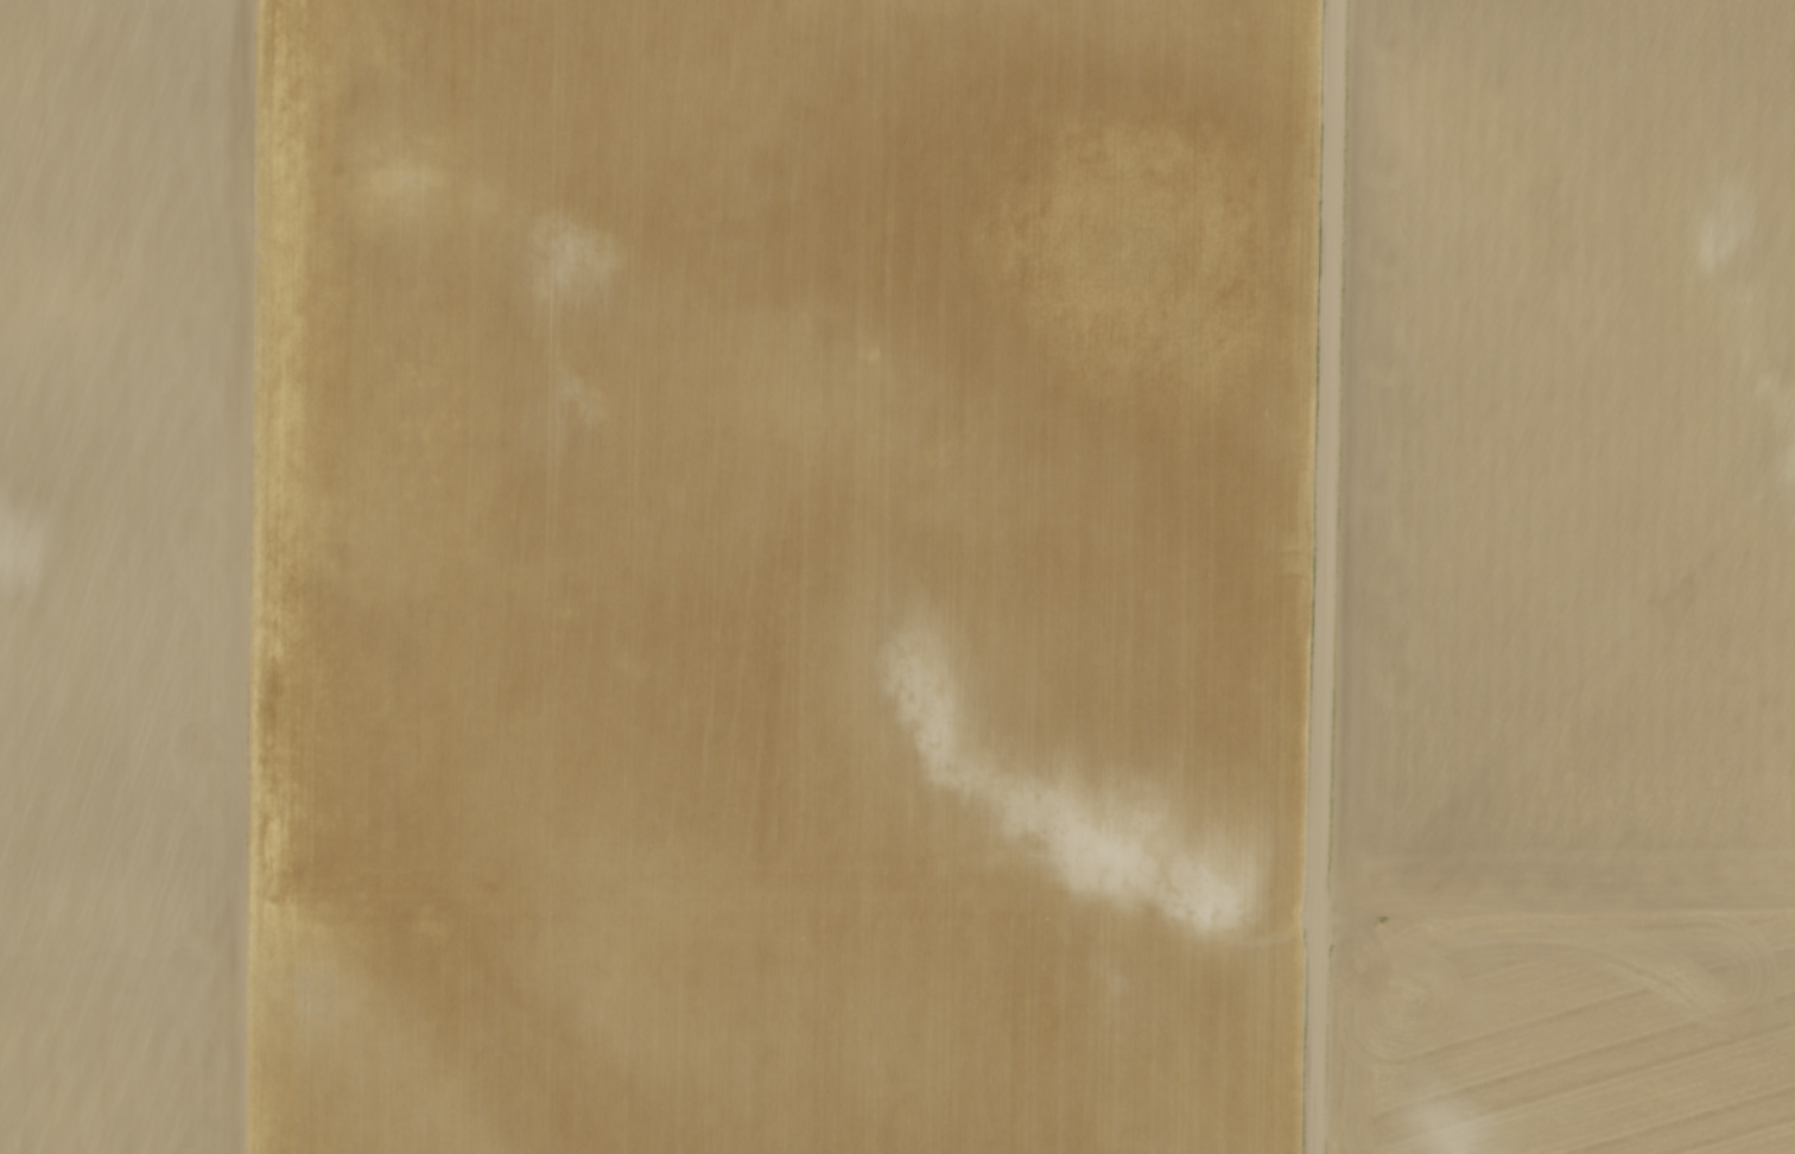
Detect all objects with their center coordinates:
crop: (648, 575)
road: (1320, 577)
crop: (1565, 582)

